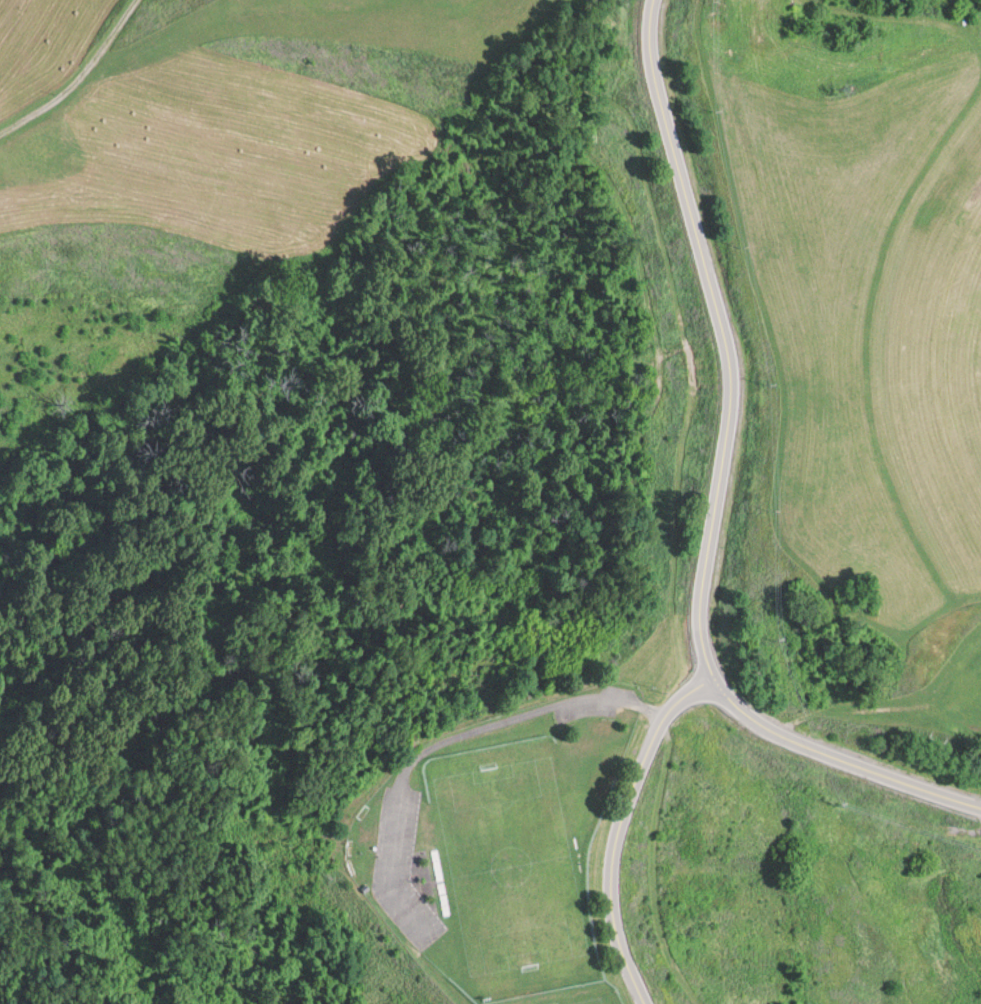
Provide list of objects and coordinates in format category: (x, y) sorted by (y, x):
road: (722, 335)
road: (451, 743)
road: (838, 754)
road: (620, 828)
park: (515, 864)
park: (578, 998)

